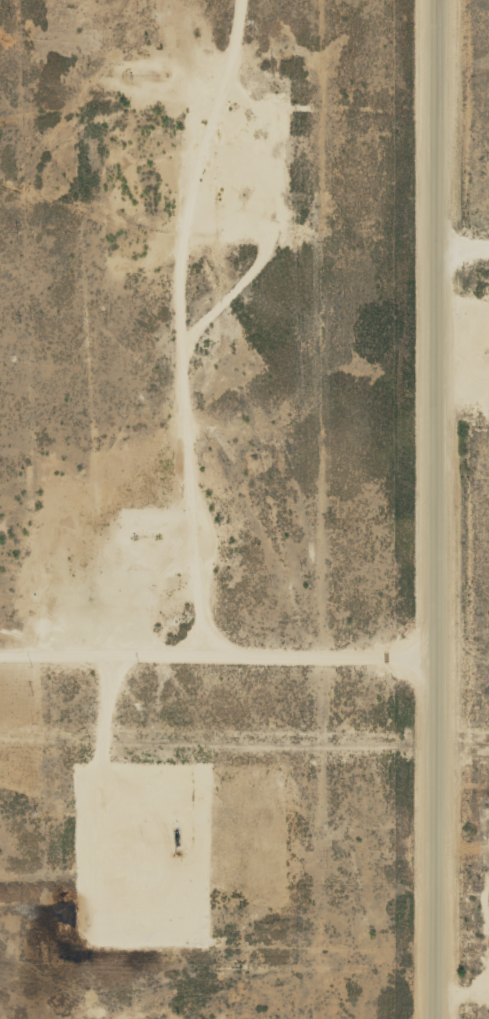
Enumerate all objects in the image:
road: (462, 213)
road: (189, 396)
road: (432, 509)
road: (289, 629)

